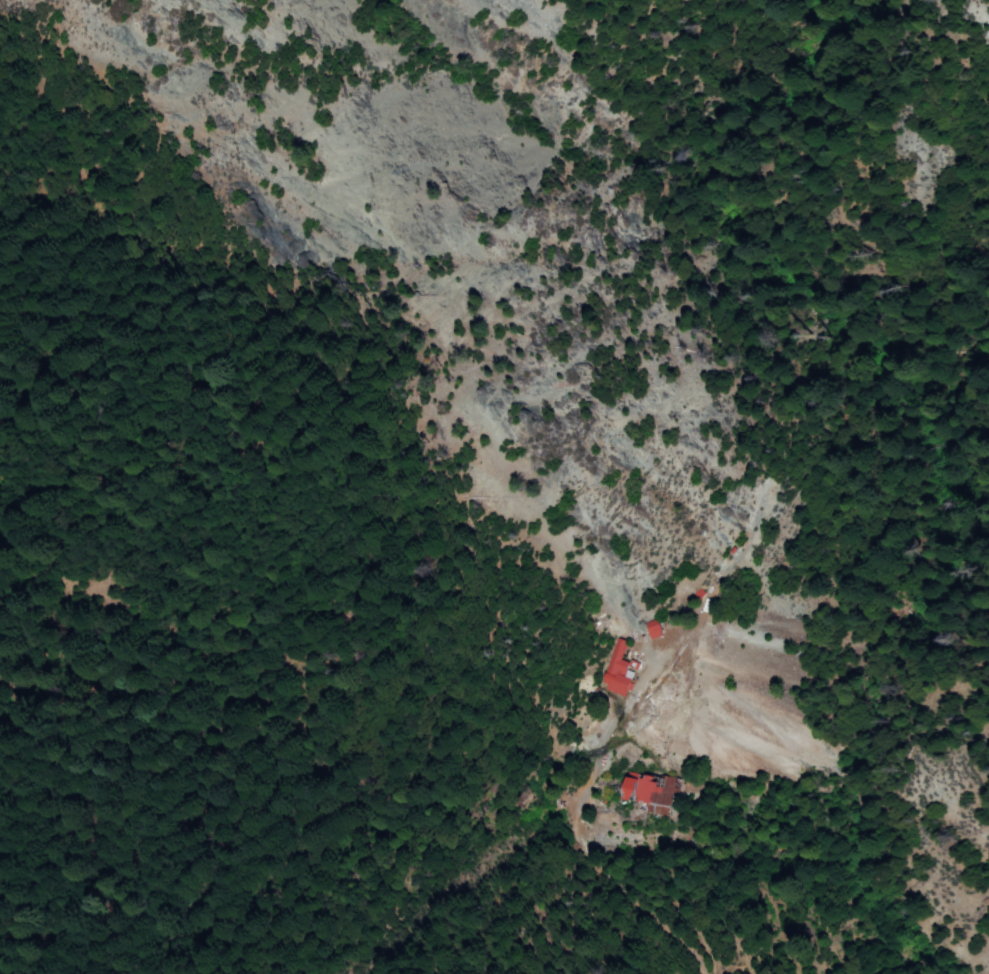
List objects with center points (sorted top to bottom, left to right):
building: (652, 629)
building: (618, 670)
building: (650, 792)
road: (574, 829)

